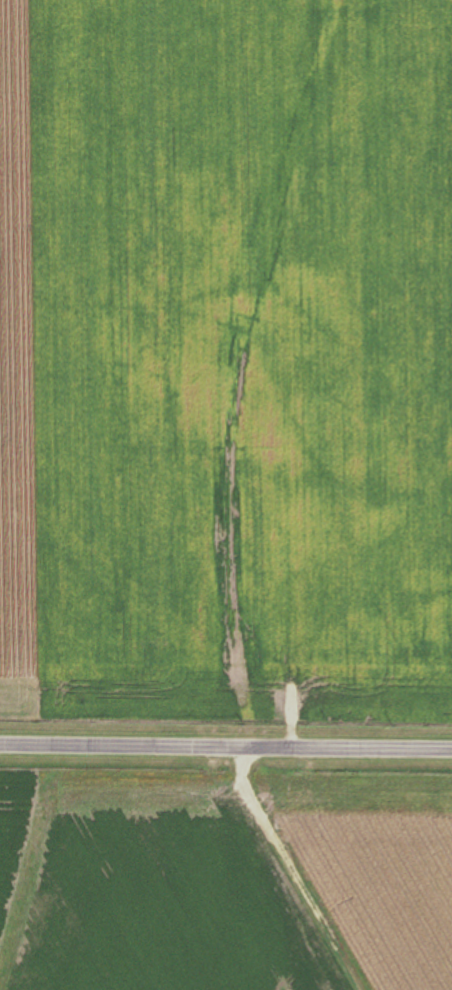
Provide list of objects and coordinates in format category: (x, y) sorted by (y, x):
road: (225, 749)

